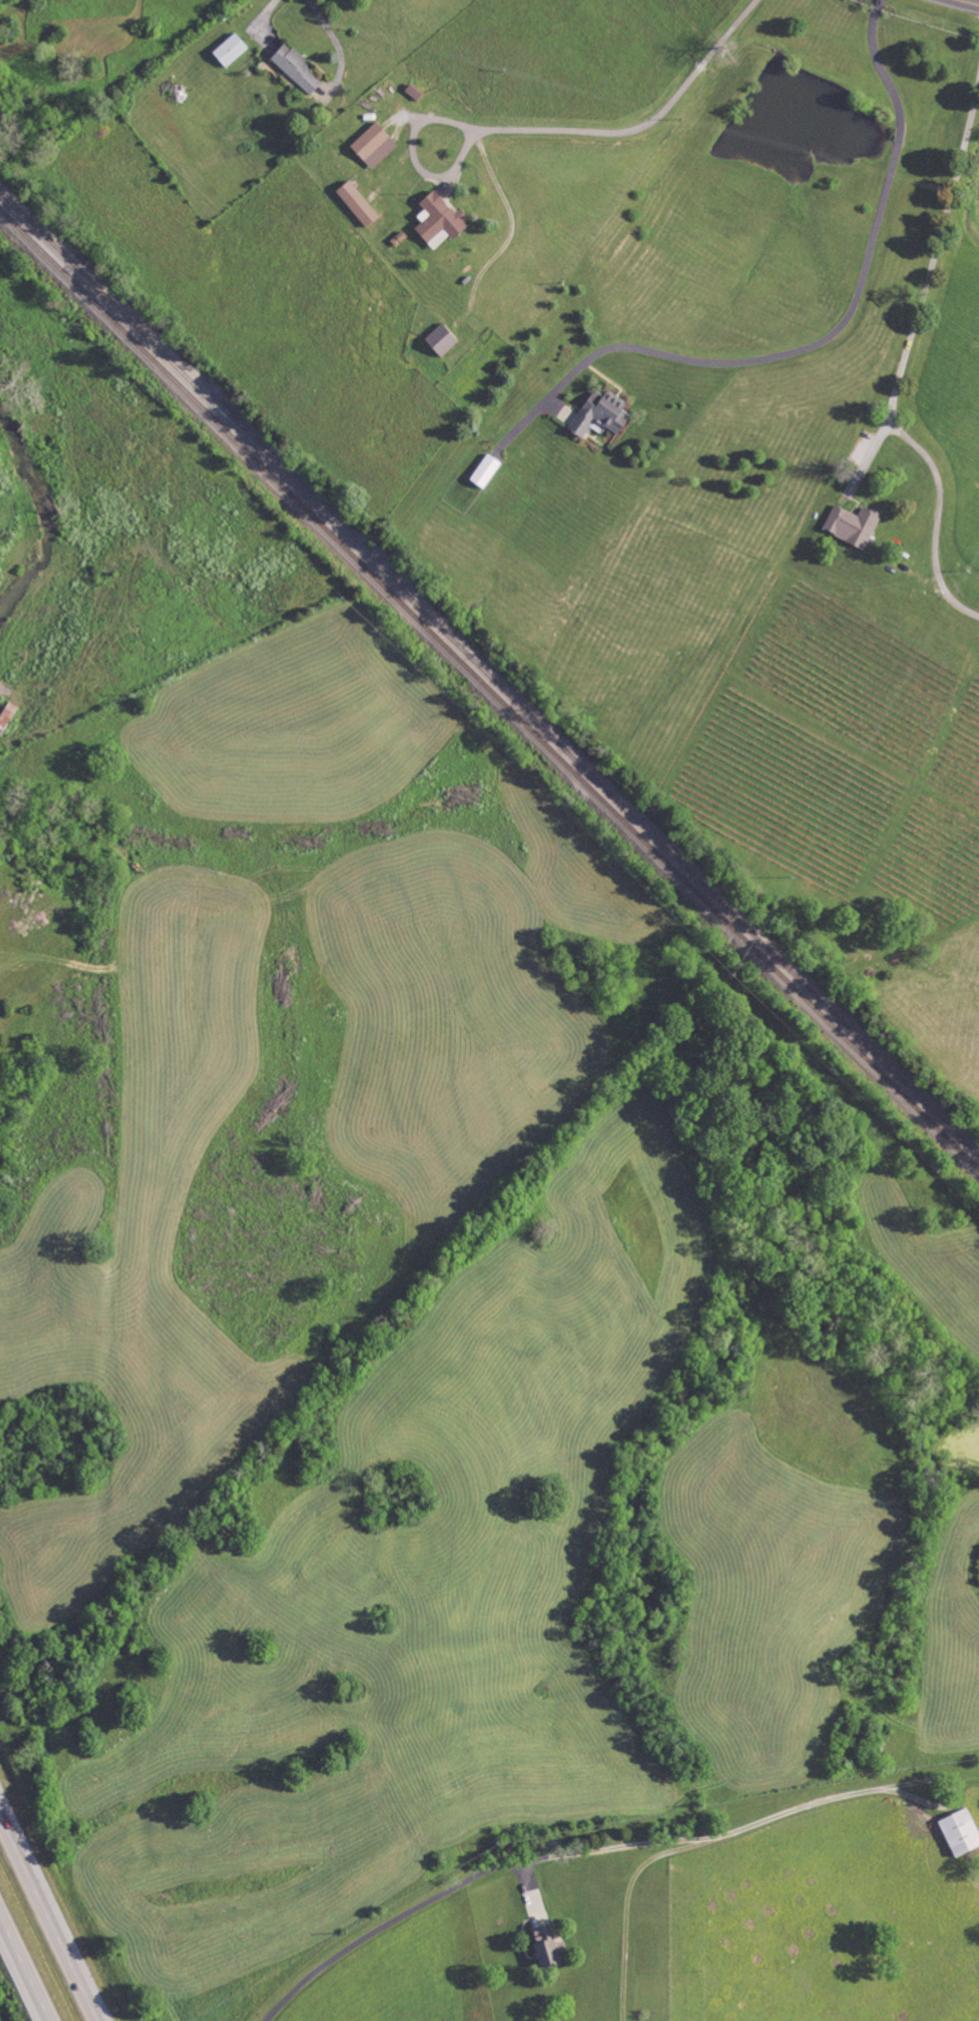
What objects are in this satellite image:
road: (971, 1)
road: (265, 12)
building: (231, 49)
building: (298, 68)
road: (643, 124)
building: (375, 144)
road: (415, 156)
building: (359, 202)
building: (440, 217)
building: (439, 238)
road: (845, 320)
building: (443, 339)
road: (903, 359)
building: (603, 412)
railway: (329, 511)
building: (853, 524)
railway: (489, 683)
building: (7, 715)
railway: (789, 966)
building: (961, 1831)
road: (613, 1846)
road: (628, 1907)
road: (50, 1915)
road: (384, 1925)
building: (549, 1944)
road: (25, 1966)

